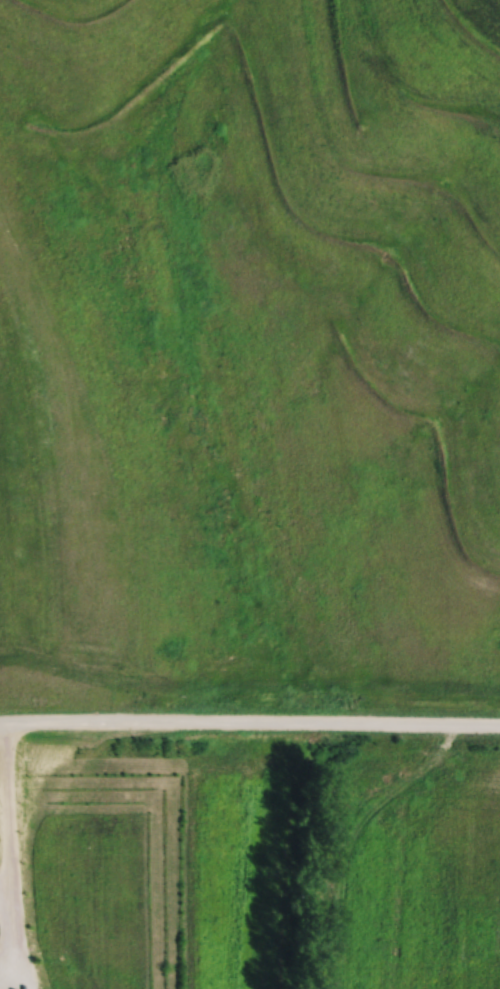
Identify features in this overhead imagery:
road: (249, 729)

